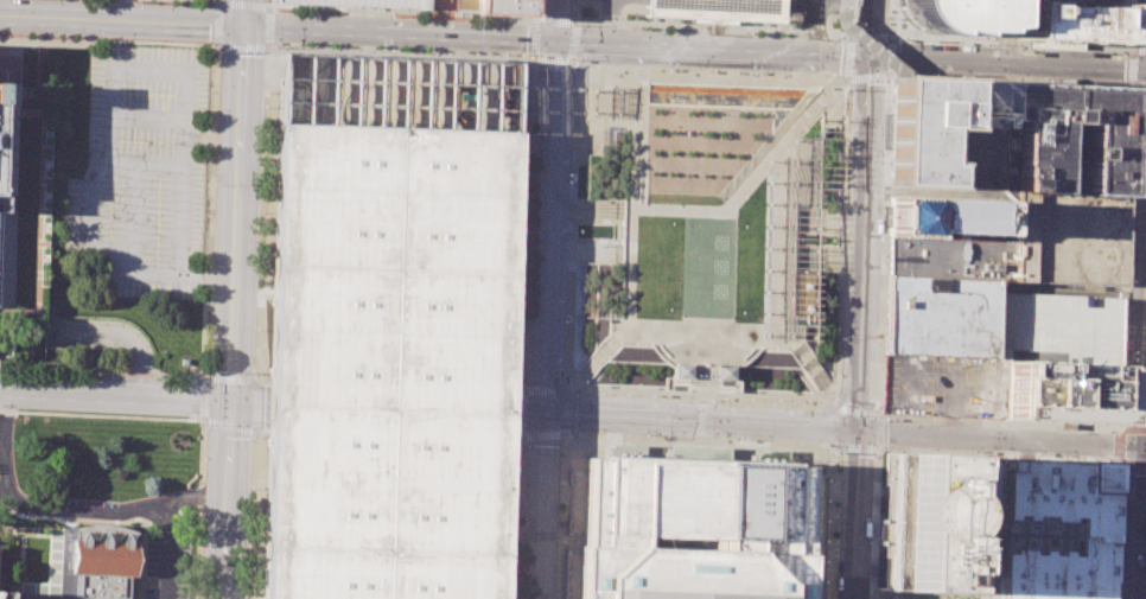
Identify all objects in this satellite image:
road: (218, 0)
building: (440, 0)
street lamp: (268, 1)
road: (853, 1)
building: (1102, 1)
street lamp: (135, 2)
road: (216, 2)
road: (231, 2)
building: (364, 2)
parking lot: (364, 2)
road: (270, 5)
road: (255, 6)
building: (497, 6)
building: (717, 8)
road: (123, 9)
street lamp: (278, 11)
road: (610, 11)
road: (242, 12)
road: (415, 13)
street lamp: (572, 13)
road: (574, 13)
building: (949, 14)
road: (814, 15)
road: (851, 17)
street lamp: (890, 17)
road: (121, 18)
road: (541, 19)
road: (555, 20)
building: (1074, 20)
road: (575, 21)
road: (215, 23)
road: (536, 23)
road: (553, 23)
road: (711, 23)
street lamp: (854, 23)
street lamp: (579, 24)
road: (852, 24)
traffic signals: (242, 25)
road: (705, 26)
street lamp: (632, 27)
road: (267, 28)
road: (871, 28)
street lamp: (677, 30)
street lamp: (745, 32)
road: (1012, 32)
street lamp: (9, 34)
road: (396, 34)
street lamp: (790, 34)
road: (622, 36)
road: (871, 36)
road: (891, 36)
street lamp: (37, 37)
street lamp: (68, 37)
street lamp: (96, 37)
street lamp: (838, 37)
road: (851, 37)
street lamp: (104, 38)
road: (892, 38)
road: (90, 39)
road: (534, 39)
road: (571, 39)
street lamp: (897, 39)
street lamp: (153, 40)
street lamp: (927, 40)
road: (152, 42)
road: (1018, 42)
street lamp: (203, 43)
road: (215, 43)
road: (864, 43)
street lamp: (988, 43)
road: (997, 43)
street lamp: (210, 44)
road: (813, 44)
traffic signals: (553, 45)
road: (217, 46)
road: (592, 46)
road: (243, 47)
street lamp: (275, 47)
road: (1134, 47)
road: (1141, 47)
flagpole: (28, 50)
flagpole: (25, 51)
flagpole: (33, 51)
road: (690, 51)
street lamp: (1025, 51)
road: (1133, 51)
road: (399, 52)
road: (1021, 52)
street lamp: (1126, 53)
street lamp: (216, 55)
road: (809, 55)
road: (891, 55)
road: (549, 57)
traffic signals: (871, 58)
road: (568, 59)
street lamp: (572, 59)
road: (571, 63)
road: (1007, 63)
road: (1132, 66)
road: (578, 68)
road: (575, 69)
street lamp: (667, 69)
road: (891, 71)
street lamp: (752, 72)
road: (890, 74)
street lamp: (930, 74)
street lamp: (954, 75)
road: (707, 76)
road: (846, 77)
street lamp: (1001, 77)
road: (886, 78)
street lamp: (1043, 78)
road: (841, 79)
street lamp: (1122, 81)
street lamp: (886, 82)
road: (552, 84)
road: (1133, 84)
road: (1141, 84)
street lamp: (847, 89)
street lamp: (1137, 94)
fountain: (717, 95)
street lamp: (822, 104)
street lamp: (262, 113)
street lamp: (803, 128)
building: (947, 133)
building: (1064, 139)
building: (4, 140)
street lamp: (846, 149)
road: (237, 153)
road: (548, 166)
parking lot: (144, 172)
street lamp: (764, 173)
road: (1132, 177)
road: (133, 187)
street lamp: (212, 187)
street lamp: (1131, 189)
road: (937, 193)
street lamp: (743, 196)
road: (879, 198)
road: (1134, 202)
road: (585, 209)
road: (721, 209)
street lamp: (260, 210)
road: (209, 212)
road: (864, 212)
road: (263, 215)
building: (941, 216)
road: (828, 217)
road: (523, 224)
parking lot: (822, 229)
road: (572, 231)
street lamp: (881, 235)
park: (707, 236)
road: (782, 236)
building: (1065, 237)
road: (874, 242)
road: (582, 253)
building: (6, 256)
building: (948, 256)
road: (874, 260)
road: (827, 261)
road: (877, 273)
road: (1145, 306)
road: (42, 311)
road: (541, 313)
building: (940, 314)
road: (1125, 314)
road: (1131, 323)
street lamp: (58, 324)
street lamp: (74, 324)
street lamp: (89, 324)
street lamp: (104, 324)
street lamp: (121, 326)
road: (711, 327)
building: (1057, 327)
street lamp: (255, 329)
building: (388, 329)
road: (619, 331)
street lamp: (134, 333)
road: (787, 334)
road: (113, 336)
street lamp: (839, 337)
road: (1129, 337)
road: (229, 342)
street lamp: (617, 343)
street lamp: (634, 343)
road: (702, 343)
street lamp: (648, 344)
street lamp: (144, 345)
street lamp: (757, 348)
street lamp: (772, 348)
road: (604, 349)
street lamp: (788, 349)
street lamp: (1125, 353)
street lamp: (605, 356)
road: (801, 356)
street lamp: (148, 359)
road: (138, 362)
road: (593, 362)
street lamp: (798, 363)
flagpole: (702, 364)
road: (706, 367)
road: (835, 367)
road: (810, 368)
street lamp: (594, 369)
building: (681, 369)
building: (722, 370)
street lamp: (256, 372)
street lamp: (26, 374)
road: (701, 374)
street lamp: (57, 375)
street lamp: (808, 375)
street lamp: (89, 376)
road: (228, 378)
road: (261, 378)
street lamp: (178, 380)
street lamp: (199, 381)
street lamp: (585, 381)
road: (703, 381)
road: (668, 382)
road: (574, 383)
road: (736, 384)
parking lot: (943, 384)
road: (703, 387)
road: (512, 389)
road: (701, 389)
road: (827, 389)
road: (547, 390)
street lamp: (819, 390)
building: (1059, 391)
street lamp: (600, 393)
street lamp: (626, 394)
street lamp: (652, 395)
street lamp: (677, 396)
road: (832, 396)
road: (701, 399)
street lamp: (724, 399)
road: (113, 400)
road: (203, 400)
street lamp: (750, 400)
street lamp: (777, 400)
road: (855, 400)
street lamp: (806, 401)
traffic signals: (227, 402)
road: (244, 403)
road: (256, 404)
road: (836, 404)
street lamp: (876, 407)
road: (842, 409)
road: (567, 410)
road: (829, 412)
road: (840, 412)
road: (523, 413)
road: (859, 413)
street lamp: (838, 414)
road: (101, 415)
road: (879, 416)
road: (523, 420)
road: (700, 420)
street lamp: (881, 420)
traffic signals: (537, 421)
road: (1139, 422)
street lamp: (200, 425)
road: (225, 425)
road: (658, 425)
road: (1010, 427)
road: (1119, 428)
road: (1134, 428)
street lamp: (1113, 429)
road: (260, 431)
road: (565, 432)
road: (879, 433)
road: (540, 434)
road: (564, 434)
traffic signals: (855, 434)
road: (510, 438)
road: (963, 438)
road: (699, 440)
road: (1, 441)
road: (1118, 444)
street lamp: (829, 445)
road: (779, 446)
road: (839, 446)
traffic signals: (1138, 446)
road: (834, 447)
road: (964, 447)
road: (877, 448)
road: (1024, 448)
road: (922, 450)
road: (699, 451)
street lamp: (836, 452)
road: (1016, 452)
street lamp: (1036, 454)
road: (816, 457)
street lamp: (1110, 458)
road: (1118, 460)
road: (1134, 463)
street lamp: (1118, 469)
road: (825, 473)
road: (577, 483)
road: (4, 488)
street lamp: (250, 488)
road: (222, 499)
road: (566, 499)
road: (574, 499)
road: (870, 499)
road: (66, 506)
road: (199, 510)
road: (535, 510)
road: (254, 511)
road: (564, 512)
road: (512, 515)
road: (870, 515)
road: (836, 516)
road: (852, 516)
road: (994, 518)
road: (106, 520)
building: (935, 522)
road: (1116, 524)
street lamp: (1119, 524)
building: (1055, 529)
road: (1113, 529)
building: (700, 530)
street lamp: (870, 539)
road: (569, 540)
road: (575, 540)
road: (1144, 547)
road: (168, 549)
road: (581, 550)
road: (829, 555)
road: (53, 559)
road: (874, 565)
parking lot: (167, 566)
street lamp: (200, 567)
road: (867, 567)
building: (90, 568)
street lamp: (1116, 572)
road: (1145, 579)
road: (870, 590)
building: (884, 594)
street lamp: (1116, 594)
street lamp: (247, 598)

